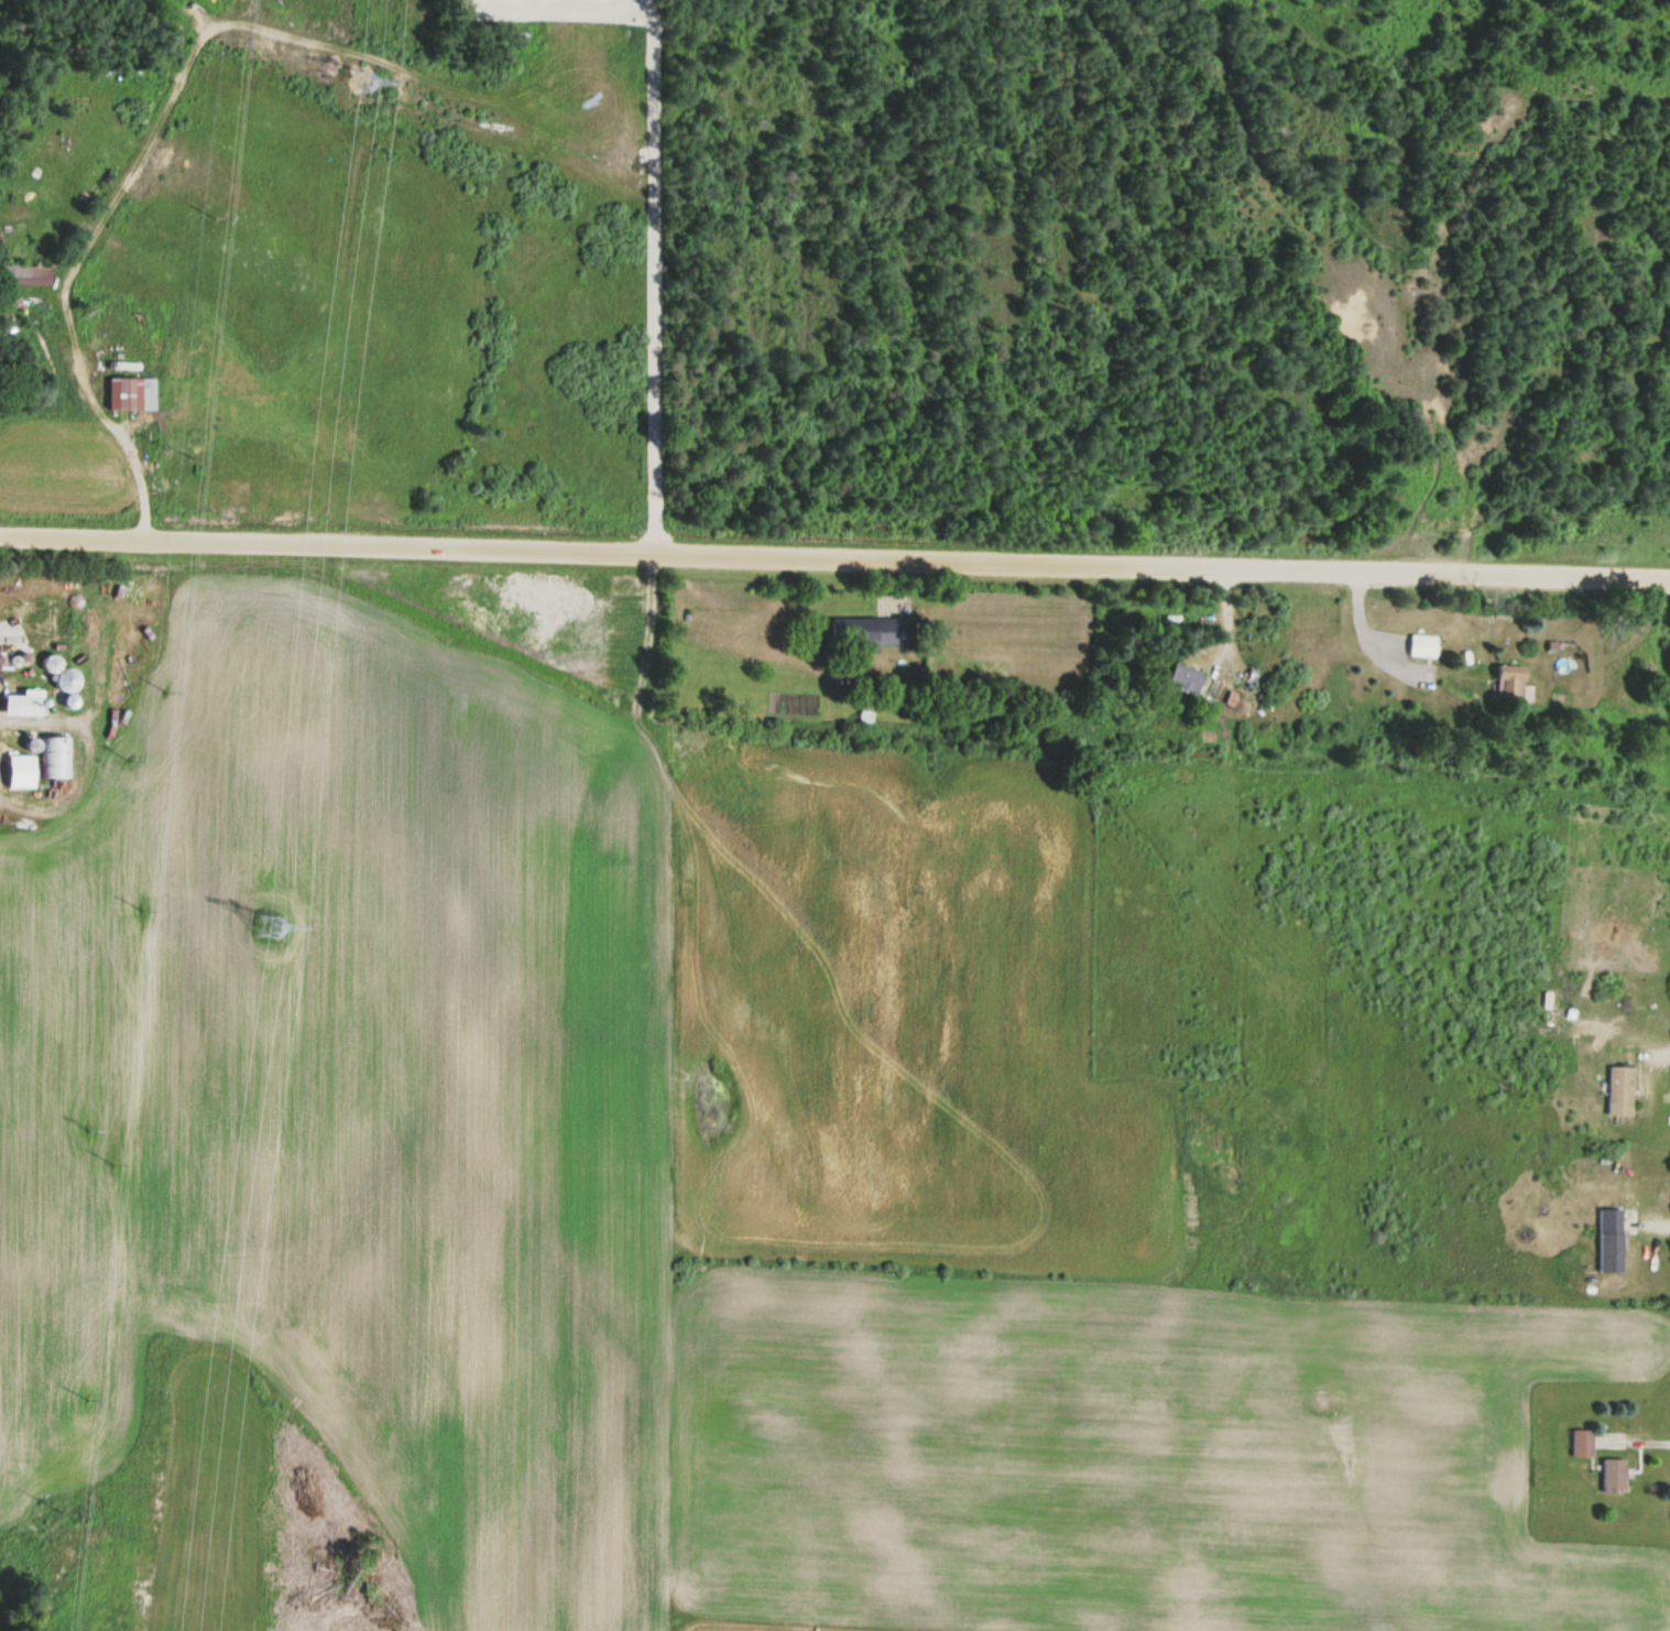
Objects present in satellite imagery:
power tower: (363, 78)
building: (133, 394)
road: (834, 558)
building: (878, 633)
building: (1420, 646)
building: (13, 661)
building: (52, 665)
building: (1185, 679)
building: (69, 682)
building: (25, 707)
building: (56, 766)
power tower: (268, 925)
building: (1620, 1091)
building: (1609, 1241)
building: (1582, 1443)
building: (1614, 1475)

